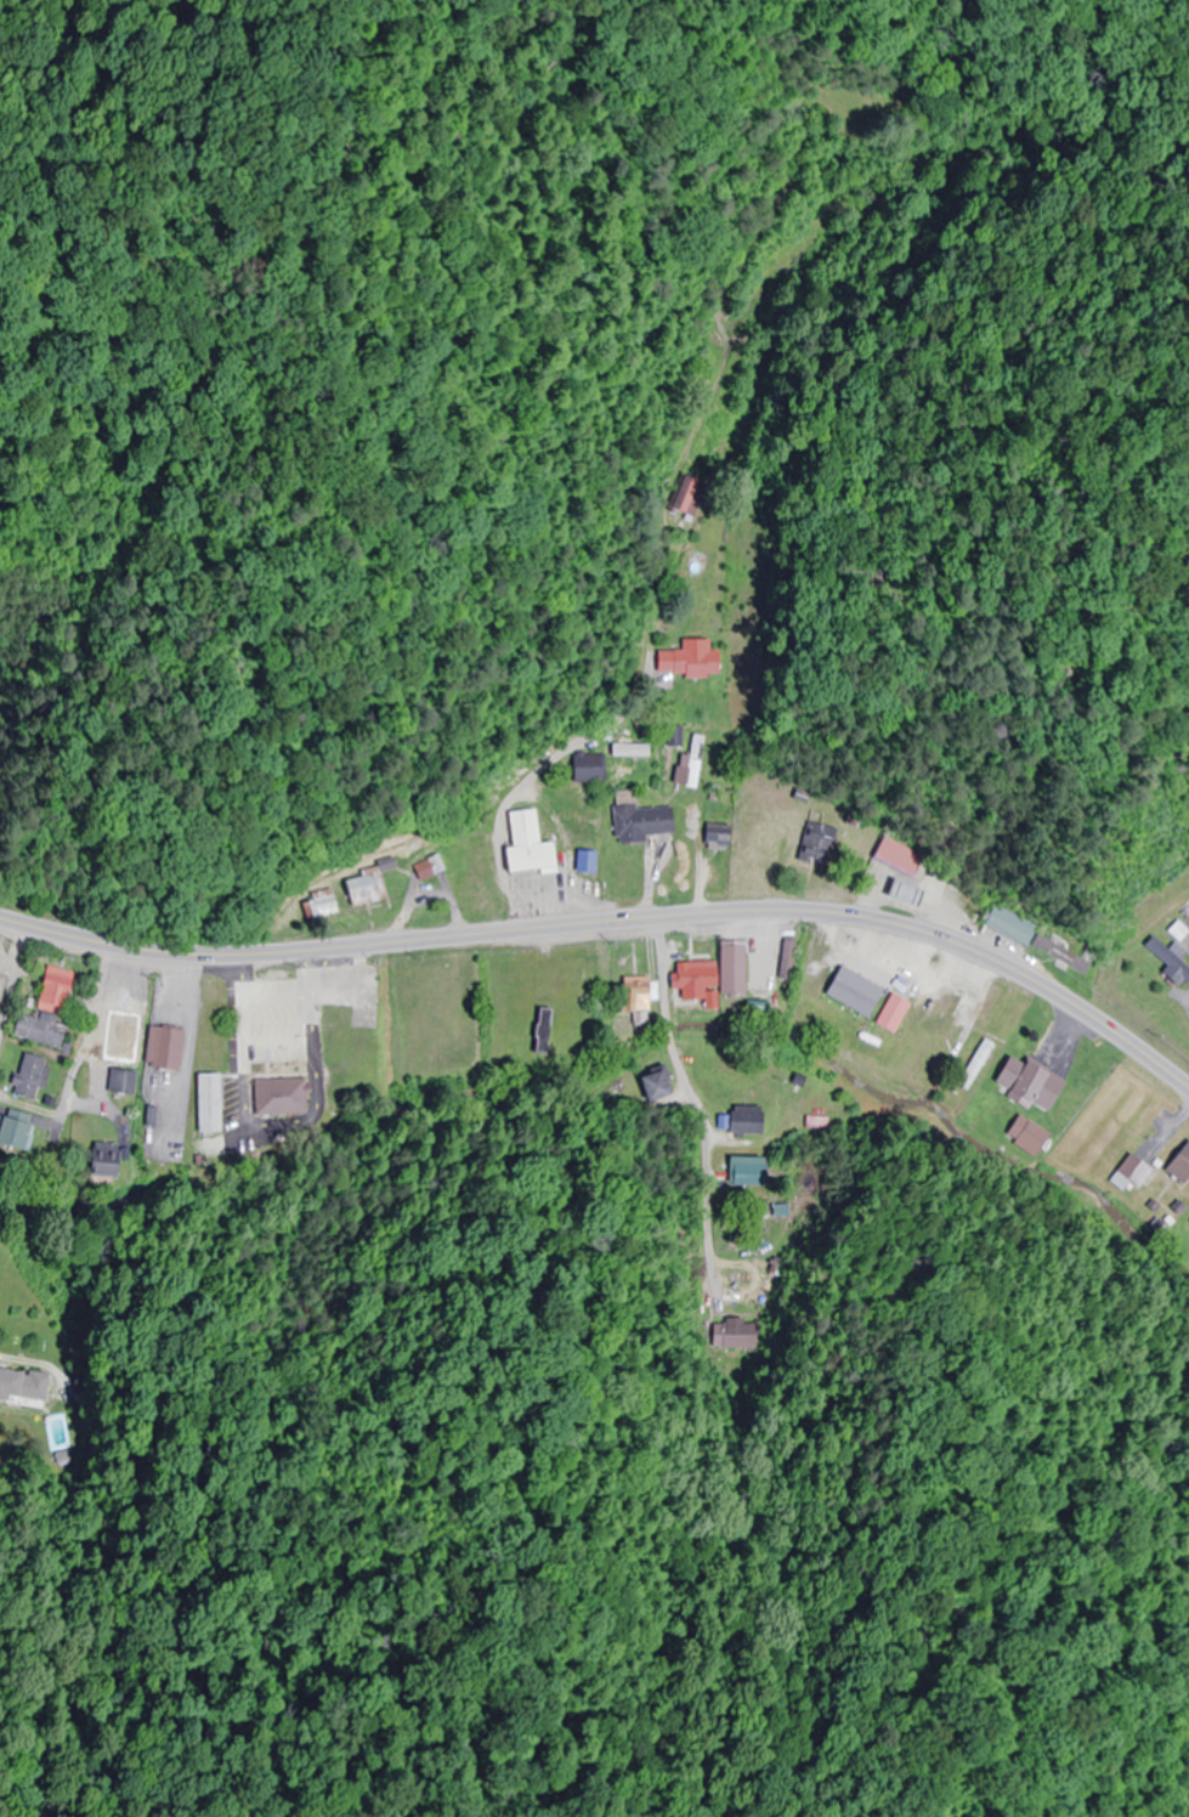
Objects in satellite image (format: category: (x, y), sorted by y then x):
road: (385, 432)
building: (685, 496)
building: (687, 660)
road: (572, 738)
building: (692, 762)
building: (585, 769)
building: (635, 819)
building: (714, 834)
building: (525, 845)
building: (817, 845)
building: (896, 857)
building: (363, 887)
building: (900, 893)
building: (472, 894)
road: (615, 921)
building: (1030, 938)
building: (1167, 961)
building: (730, 968)
road: (13, 977)
building: (692, 977)
building: (51, 991)
building: (632, 995)
building: (539, 1024)
building: (35, 1030)
building: (124, 1041)
building: (163, 1048)
building: (974, 1066)
road: (97, 1074)
building: (28, 1077)
building: (120, 1082)
building: (1025, 1083)
building: (652, 1086)
building: (278, 1097)
building: (205, 1103)
building: (743, 1120)
building: (819, 1123)
building: (12, 1132)
building: (1025, 1134)
building: (103, 1160)
building: (1178, 1164)
building: (744, 1171)
building: (1128, 1173)
building: (736, 1334)
road: (843, 1363)
building: (22, 1385)
building: (69, 1438)

